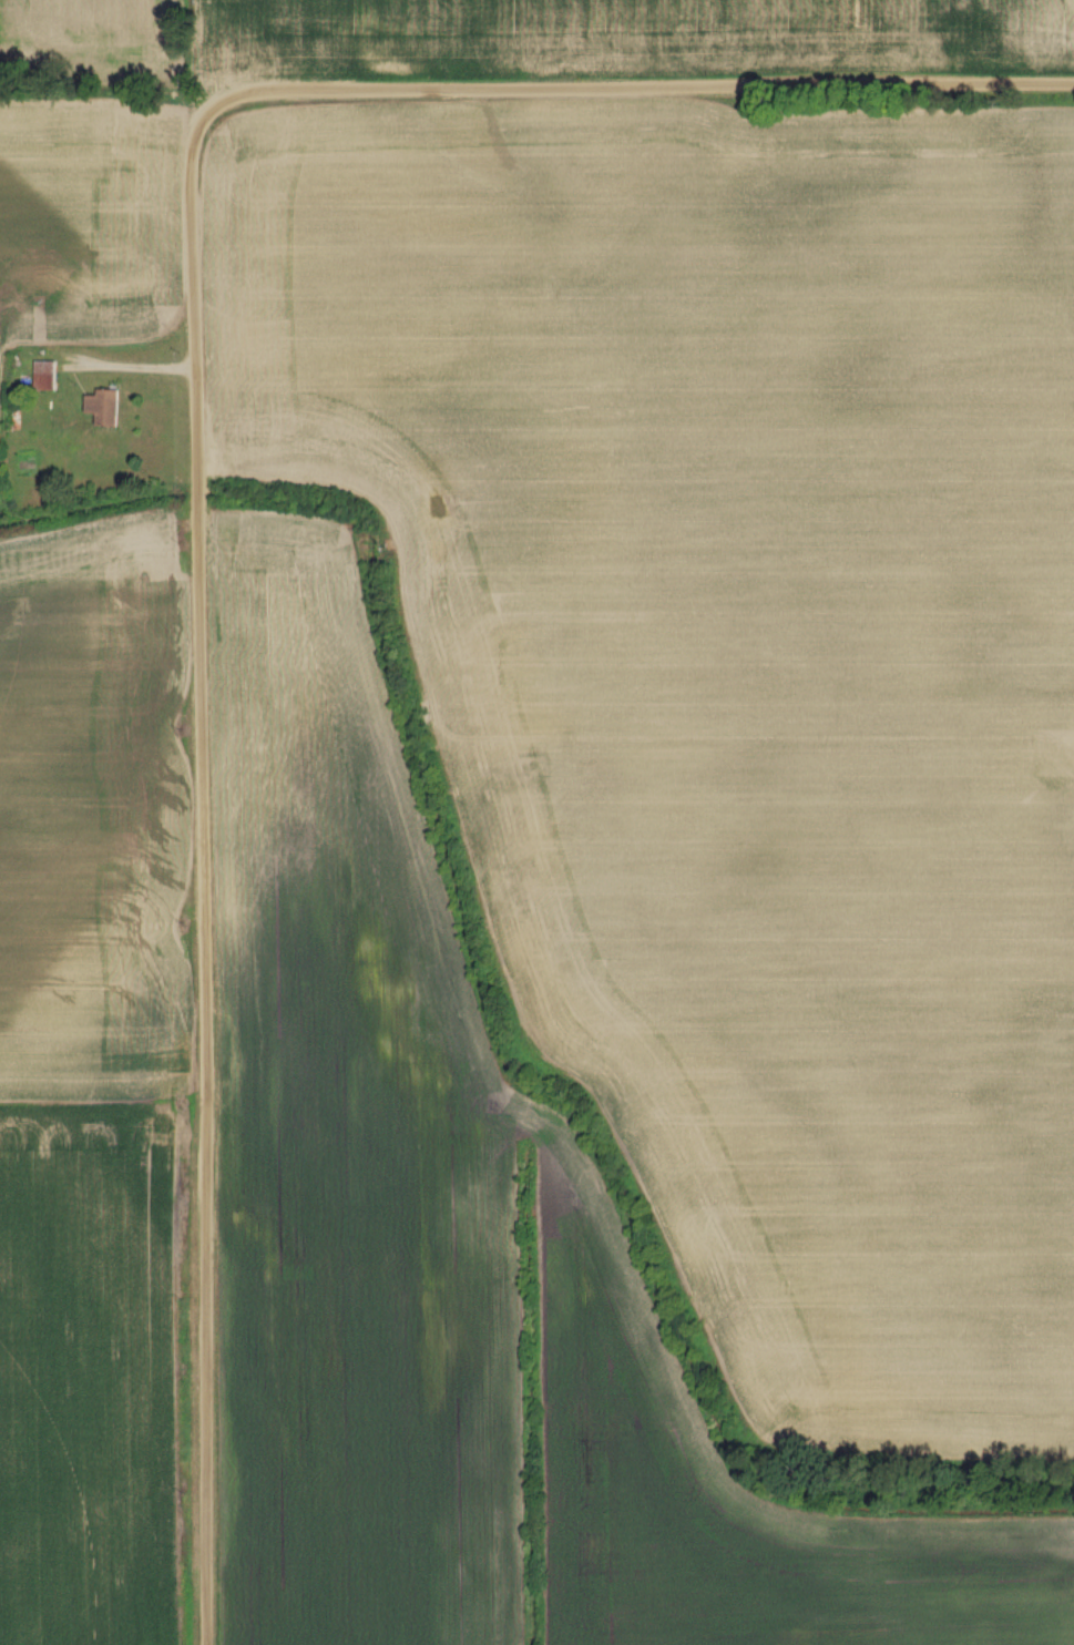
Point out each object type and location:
crop: (621, 33)
crop: (112, 41)
road: (634, 84)
crop: (83, 233)
building: (47, 376)
building: (105, 408)
crop: (734, 668)
road: (201, 870)
crop: (92, 1081)
crop: (460, 1243)

